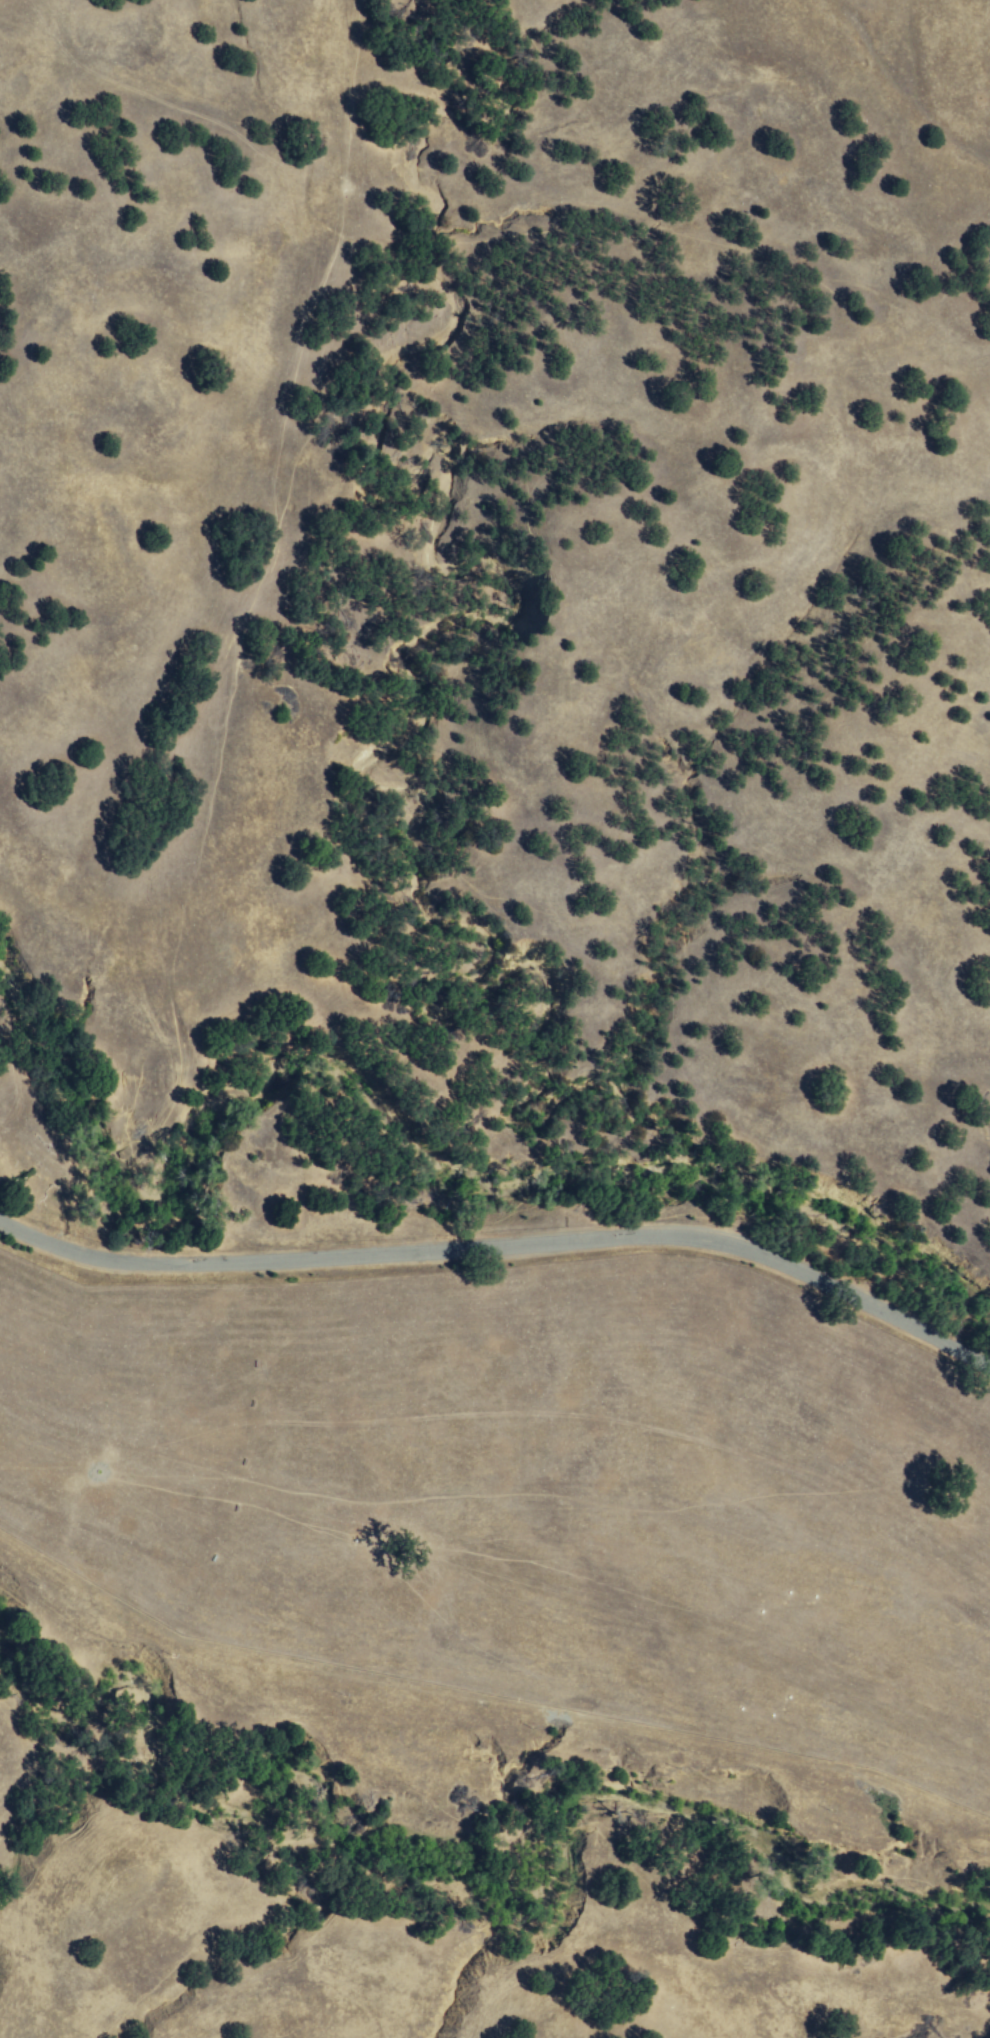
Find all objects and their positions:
road: (239, 635)
river: (388, 1121)
road: (505, 1248)
road: (9, 1399)
crop: (533, 1490)

